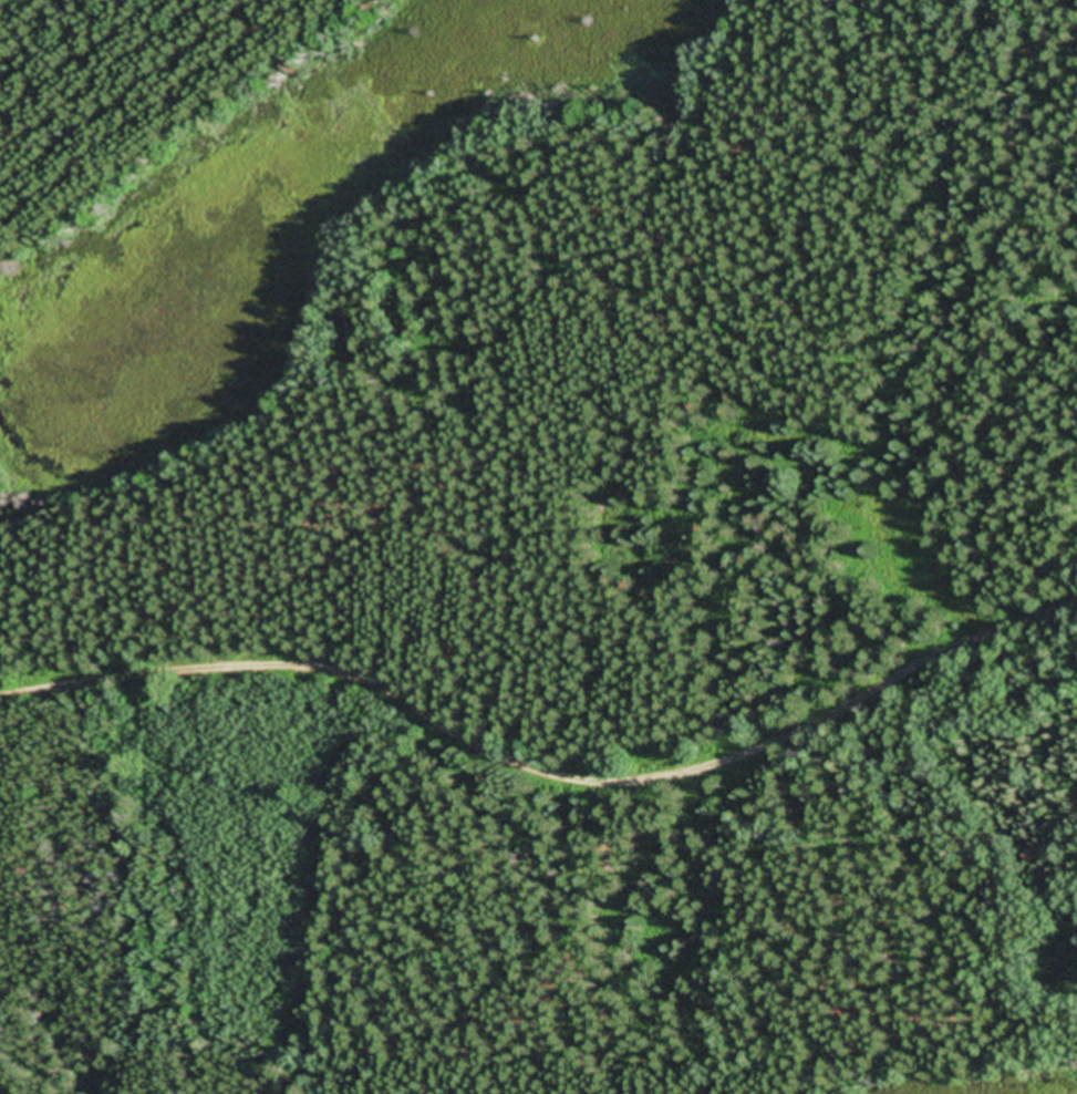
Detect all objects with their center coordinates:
road: (82, 61)
road: (545, 776)

